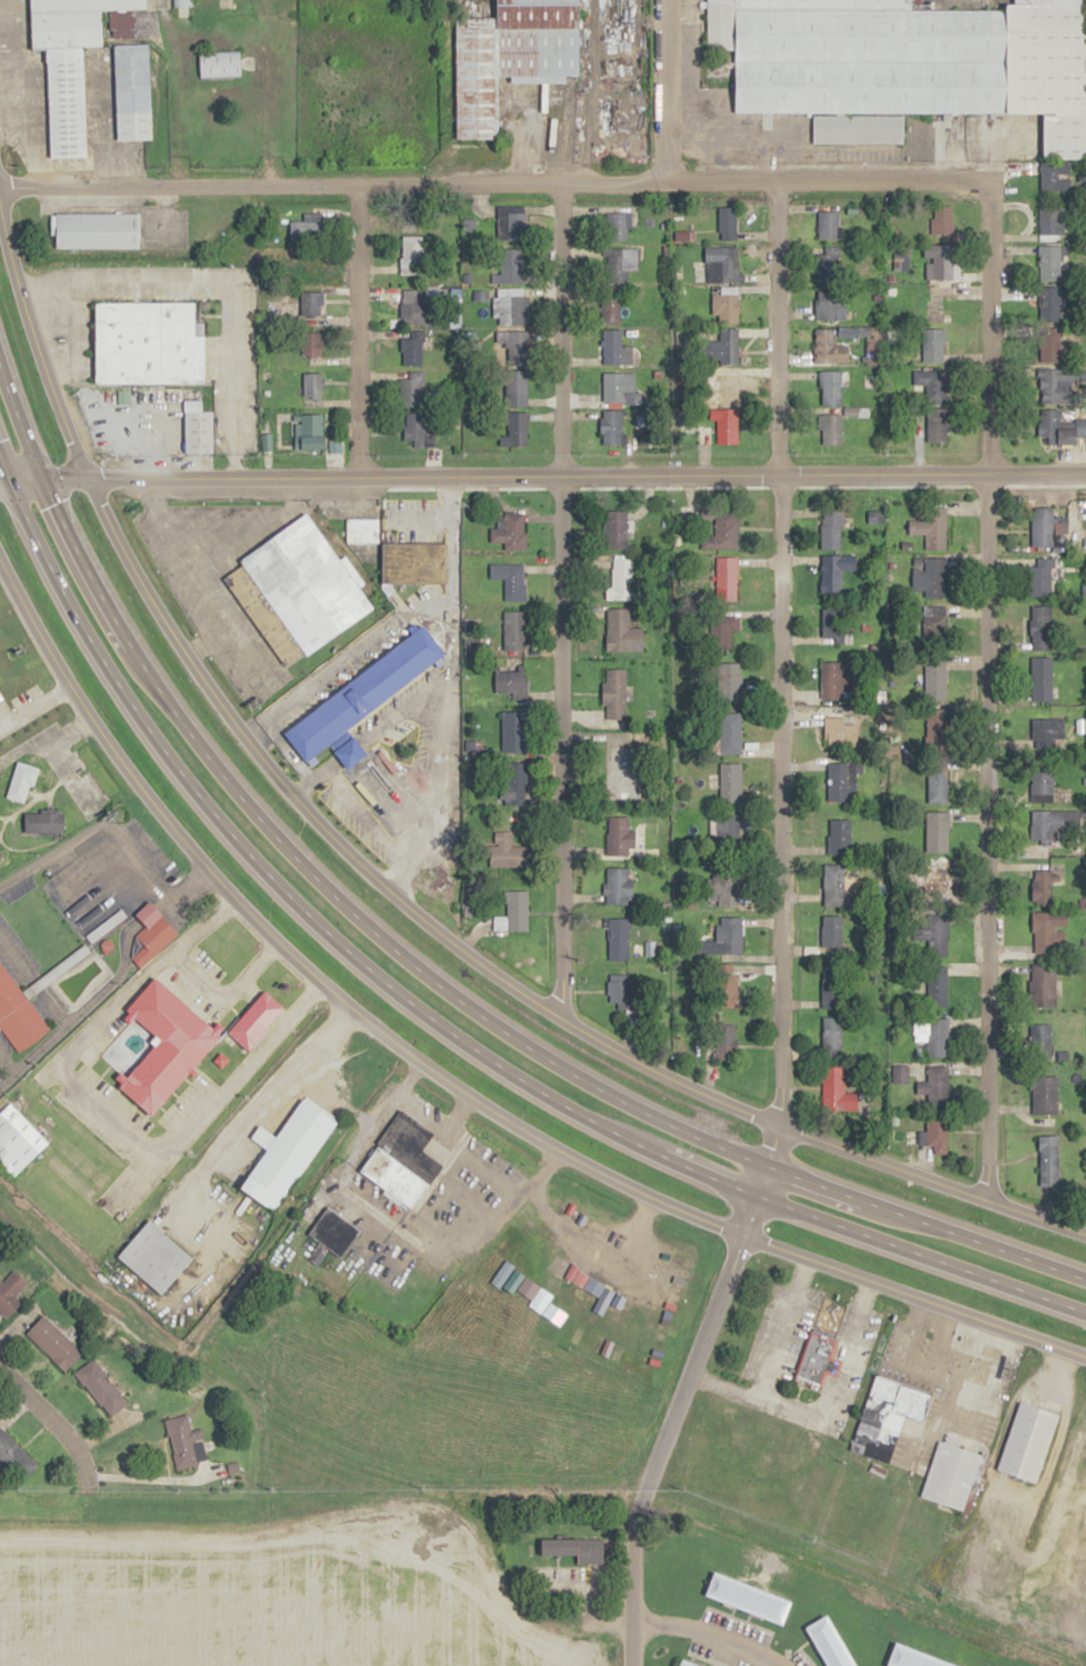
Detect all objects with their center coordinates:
building: (180, 1)
building: (508, 57)
building: (219, 63)
building: (907, 63)
building: (68, 69)
building: (128, 82)
road: (665, 92)
building: (1048, 177)
road: (499, 184)
building: (827, 222)
building: (509, 223)
building: (728, 223)
building: (1050, 223)
building: (306, 227)
building: (616, 227)
building: (96, 230)
building: (415, 254)
building: (942, 262)
building: (619, 263)
building: (1048, 263)
building: (721, 264)
building: (510, 265)
building: (302, 266)
building: (827, 266)
road: (219, 279)
building: (309, 304)
building: (830, 304)
building: (1047, 305)
building: (419, 306)
building: (726, 307)
building: (510, 310)
building: (613, 310)
road: (357, 333)
building: (145, 343)
building: (312, 344)
building: (514, 345)
building: (934, 345)
building: (411, 347)
building: (612, 347)
building: (723, 348)
building: (830, 348)
building: (1050, 348)
building: (931, 384)
building: (310, 385)
building: (1059, 386)
building: (832, 387)
building: (515, 388)
building: (618, 388)
building: (725, 388)
building: (411, 391)
building: (932, 425)
building: (726, 426)
building: (413, 427)
building: (611, 427)
building: (197, 428)
building: (1058, 428)
building: (514, 429)
building: (830, 430)
building: (312, 431)
road: (542, 475)
traffic signals: (33, 480)
building: (1046, 526)
building: (361, 530)
building: (614, 530)
building: (831, 530)
building: (929, 530)
building: (510, 532)
building: (723, 532)
building: (413, 563)
building: (835, 573)
building: (930, 576)
building: (1041, 577)
building: (621, 578)
building: (726, 578)
building: (509, 580)
road: (190, 585)
building: (295, 590)
road: (557, 598)
building: (934, 620)
building: (831, 622)
building: (1040, 628)
building: (513, 631)
building: (724, 631)
building: (622, 632)
building: (0, 679)
building: (834, 680)
building: (935, 680)
building: (1041, 680)
building: (729, 681)
building: (509, 682)
building: (365, 693)
building: (613, 693)
road: (981, 700)
road: (34, 705)
road: (3, 717)
building: (936, 726)
building: (513, 732)
building: (1047, 732)
building: (730, 733)
building: (839, 733)
building: (350, 752)
building: (623, 773)
building: (20, 780)
building: (841, 780)
building: (1041, 780)
building: (510, 783)
building: (730, 784)
building: (937, 785)
building: (43, 821)
building: (1045, 827)
building: (729, 828)
building: (937, 831)
building: (619, 836)
building: (839, 836)
building: (505, 850)
road: (51, 852)
building: (1, 855)
road: (135, 855)
building: (937, 883)
building: (616, 886)
building: (726, 886)
building: (834, 886)
building: (1042, 887)
road: (188, 888)
road: (392, 891)
parking lot: (80, 895)
building: (516, 910)
park: (39, 926)
building: (831, 932)
building: (1048, 932)
building: (151, 933)
building: (728, 934)
road: (780, 935)
building: (937, 937)
building: (618, 939)
road: (77, 954)
road: (425, 975)
road: (32, 979)
building: (726, 981)
building: (830, 986)
building: (936, 986)
building: (1043, 986)
building: (620, 993)
road: (224, 994)
road: (96, 997)
building: (18, 1014)
building: (255, 1019)
road: (92, 1029)
road: (437, 1029)
building: (831, 1035)
building: (935, 1038)
building: (1040, 1041)
building: (166, 1045)
building: (716, 1048)
road: (6, 1066)
building: (0, 1078)
road: (450, 1083)
building: (934, 1088)
road: (222, 1089)
building: (1043, 1089)
building: (834, 1090)
road: (253, 1111)
building: (928, 1134)
building: (18, 1140)
building: (285, 1153)
building: (402, 1157)
road: (350, 1165)
building: (1048, 1169)
building: (328, 1232)
building: (155, 1256)
building: (10, 1292)
building: (595, 1297)
building: (54, 1342)
building: (816, 1358)
building: (101, 1387)
building: (887, 1416)
road: (51, 1424)
building: (182, 1440)
building: (1027, 1440)
building: (14, 1456)
building: (953, 1475)
building: (572, 1548)
building: (749, 1596)
road: (731, 1609)
road: (748, 1615)
road: (738, 1617)
road: (586, 1621)
parking lot: (736, 1626)
road: (707, 1635)
building: (832, 1642)
road: (799, 1648)
parking lot: (717, 1655)
building: (914, 1657)
road: (704, 1658)
parking lot: (798, 1658)
building: (688, 1663)

